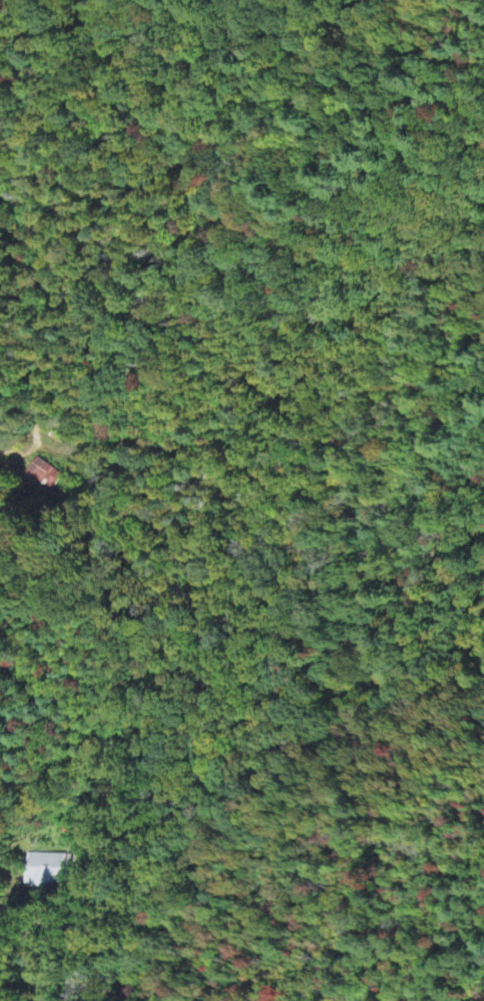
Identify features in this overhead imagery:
building: (46, 477)
building: (48, 873)
road: (48, 938)

